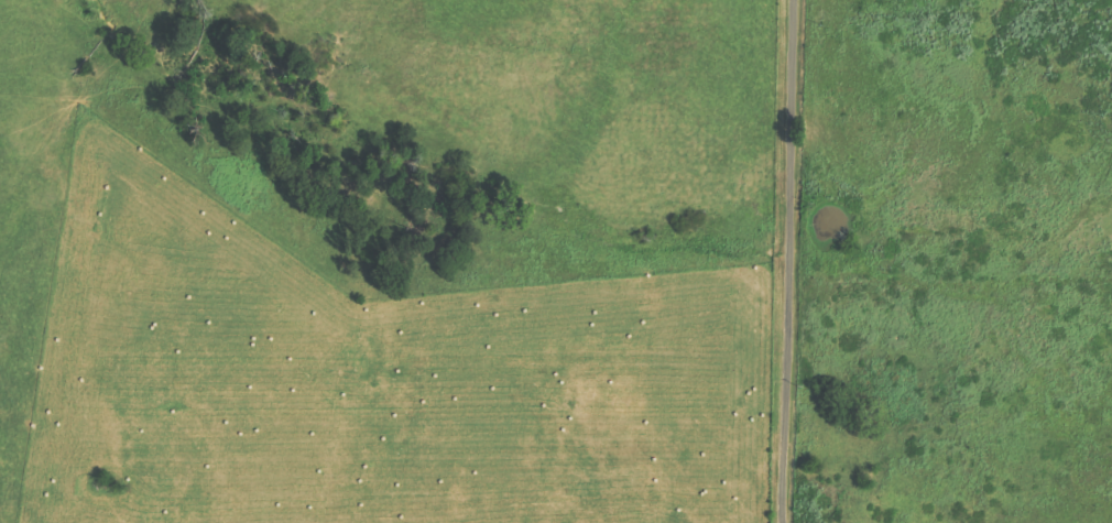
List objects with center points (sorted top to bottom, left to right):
road: (787, 261)

